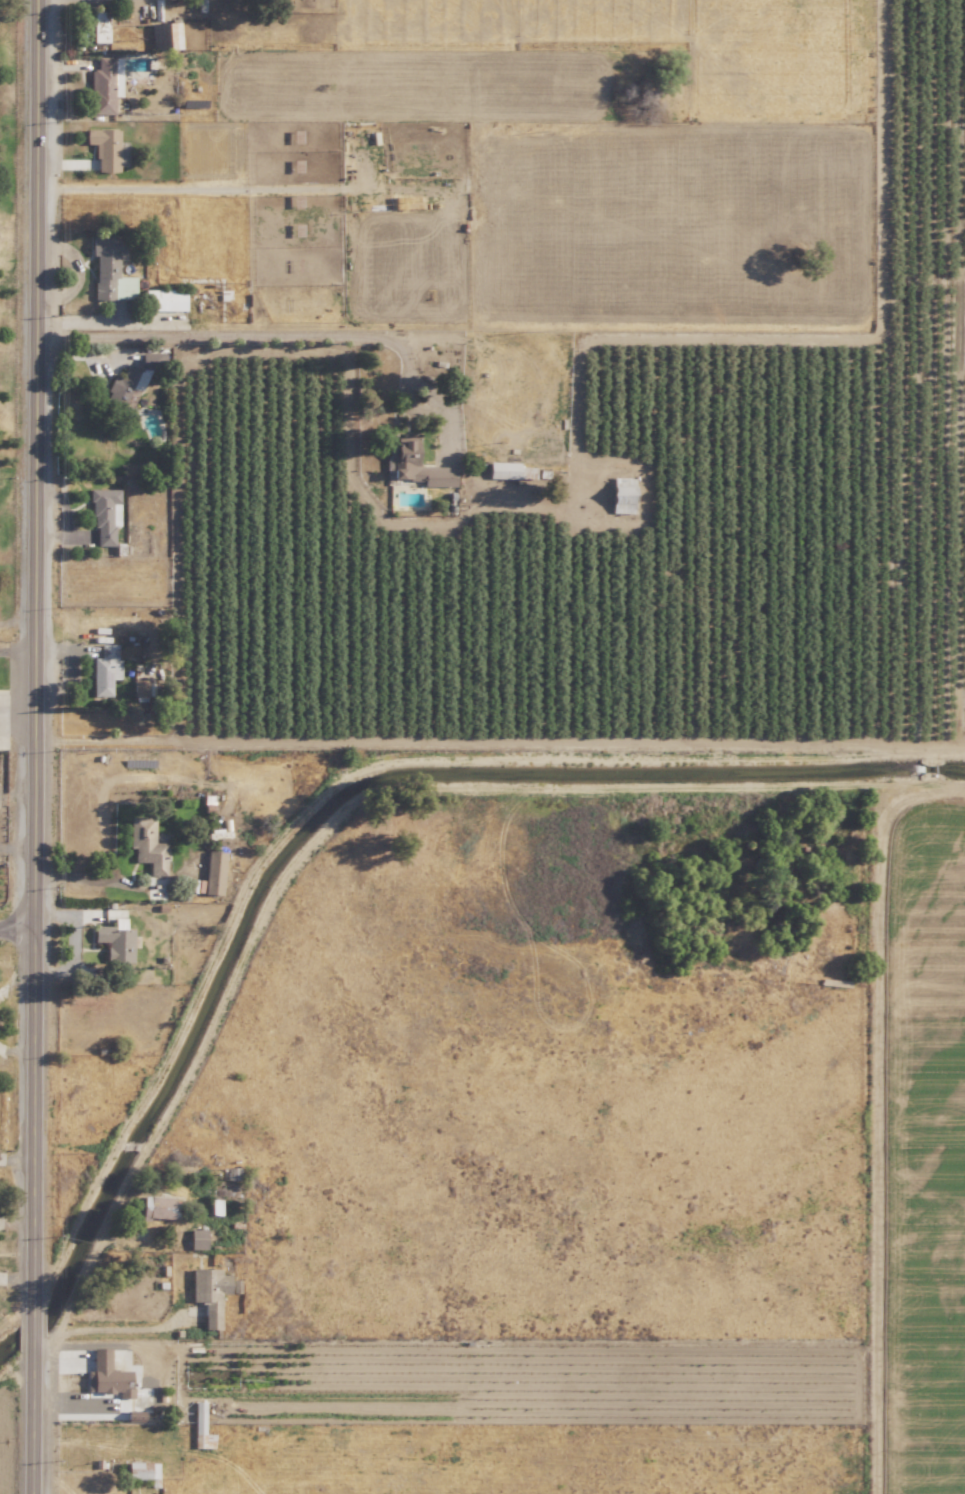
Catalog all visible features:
building: (99, 26)
building: (165, 35)
building: (102, 86)
building: (103, 146)
building: (105, 267)
building: (163, 299)
road: (287, 331)
park: (7, 366)
road: (416, 385)
building: (125, 386)
building: (404, 456)
building: (503, 470)
building: (442, 476)
building: (622, 494)
building: (105, 515)
crop: (608, 620)
road: (16, 650)
road: (33, 653)
building: (104, 669)
building: (142, 680)
building: (146, 845)
building: (213, 873)
road: (82, 877)
road: (16, 927)
building: (115, 941)
building: (160, 1208)
building: (196, 1239)
building: (209, 1294)
road: (32, 1325)
road: (99, 1328)
building: (107, 1373)
road: (31, 1418)
building: (199, 1421)

